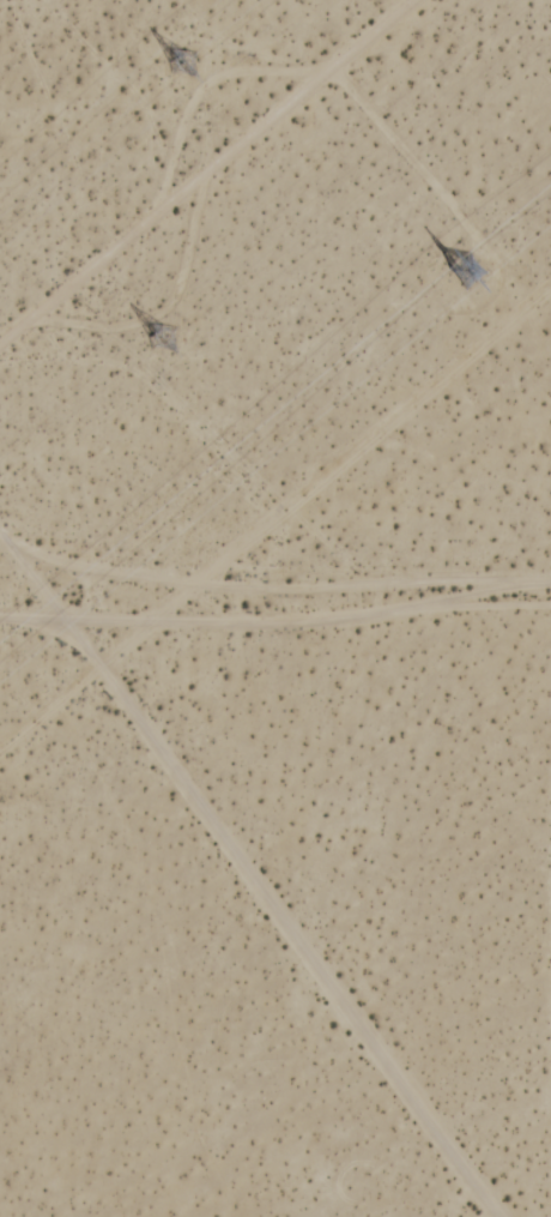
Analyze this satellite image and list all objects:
power tower: (178, 61)
road: (201, 168)
power tower: (478, 261)
power tower: (174, 325)
road: (274, 615)
road: (248, 878)

